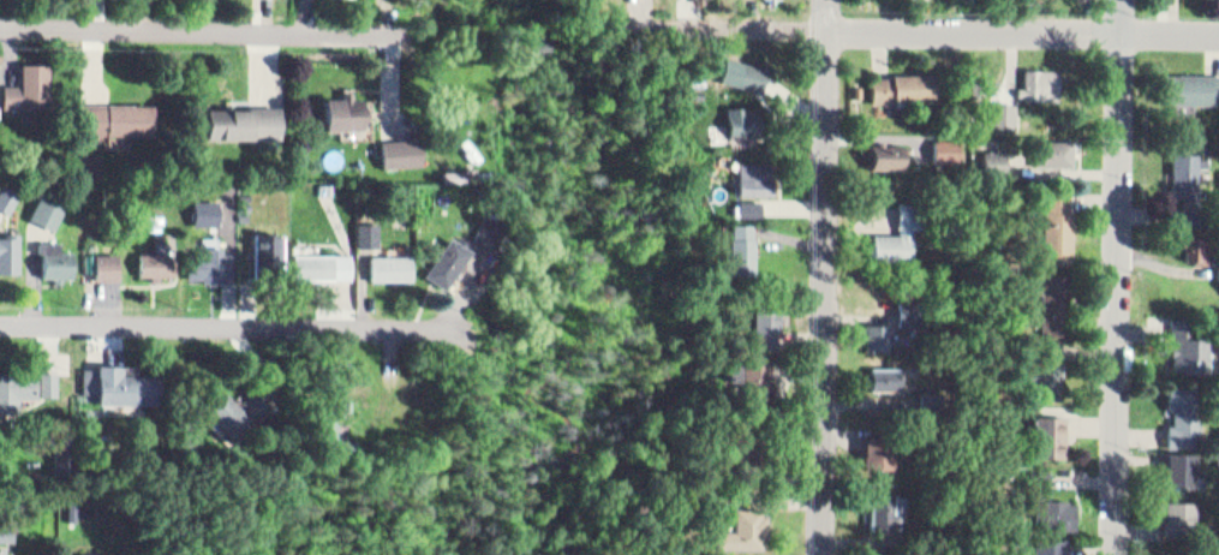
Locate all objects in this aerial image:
building: (776, 0)
road: (488, 20)
road: (197, 29)
road: (925, 30)
road: (570, 38)
road: (616, 49)
building: (754, 72)
building: (1193, 79)
building: (1044, 80)
building: (36, 82)
building: (907, 84)
building: (860, 88)
building: (348, 113)
building: (119, 117)
building: (751, 120)
building: (239, 123)
building: (884, 149)
building: (1057, 149)
building: (405, 150)
building: (999, 159)
building: (755, 175)
building: (1193, 178)
building: (331, 186)
building: (8, 196)
building: (50, 205)
building: (748, 205)
building: (1059, 222)
building: (491, 229)
building: (903, 229)
building: (374, 233)
building: (1197, 240)
building: (741, 245)
building: (10, 253)
building: (267, 253)
building: (58, 259)
building: (156, 262)
building: (211, 262)
building: (449, 262)
building: (324, 263)
building: (108, 264)
building: (390, 265)
road: (832, 277)
road: (1122, 277)
building: (1058, 292)
building: (912, 310)
building: (765, 322)
road: (209, 327)
building: (880, 333)
building: (1189, 336)
building: (1048, 365)
building: (733, 369)
building: (886, 375)
building: (48, 376)
building: (752, 376)
building: (119, 384)
building: (16, 386)
building: (256, 404)
building: (1181, 410)
building: (228, 414)
building: (1050, 432)
building: (341, 434)
building: (747, 450)
building: (58, 455)
building: (1178, 460)
building: (73, 507)
building: (1181, 507)
building: (884, 509)
building: (10, 523)
building: (1054, 524)
building: (743, 527)
building: (5, 549)
building: (98, 554)
building: (1166, 554)

